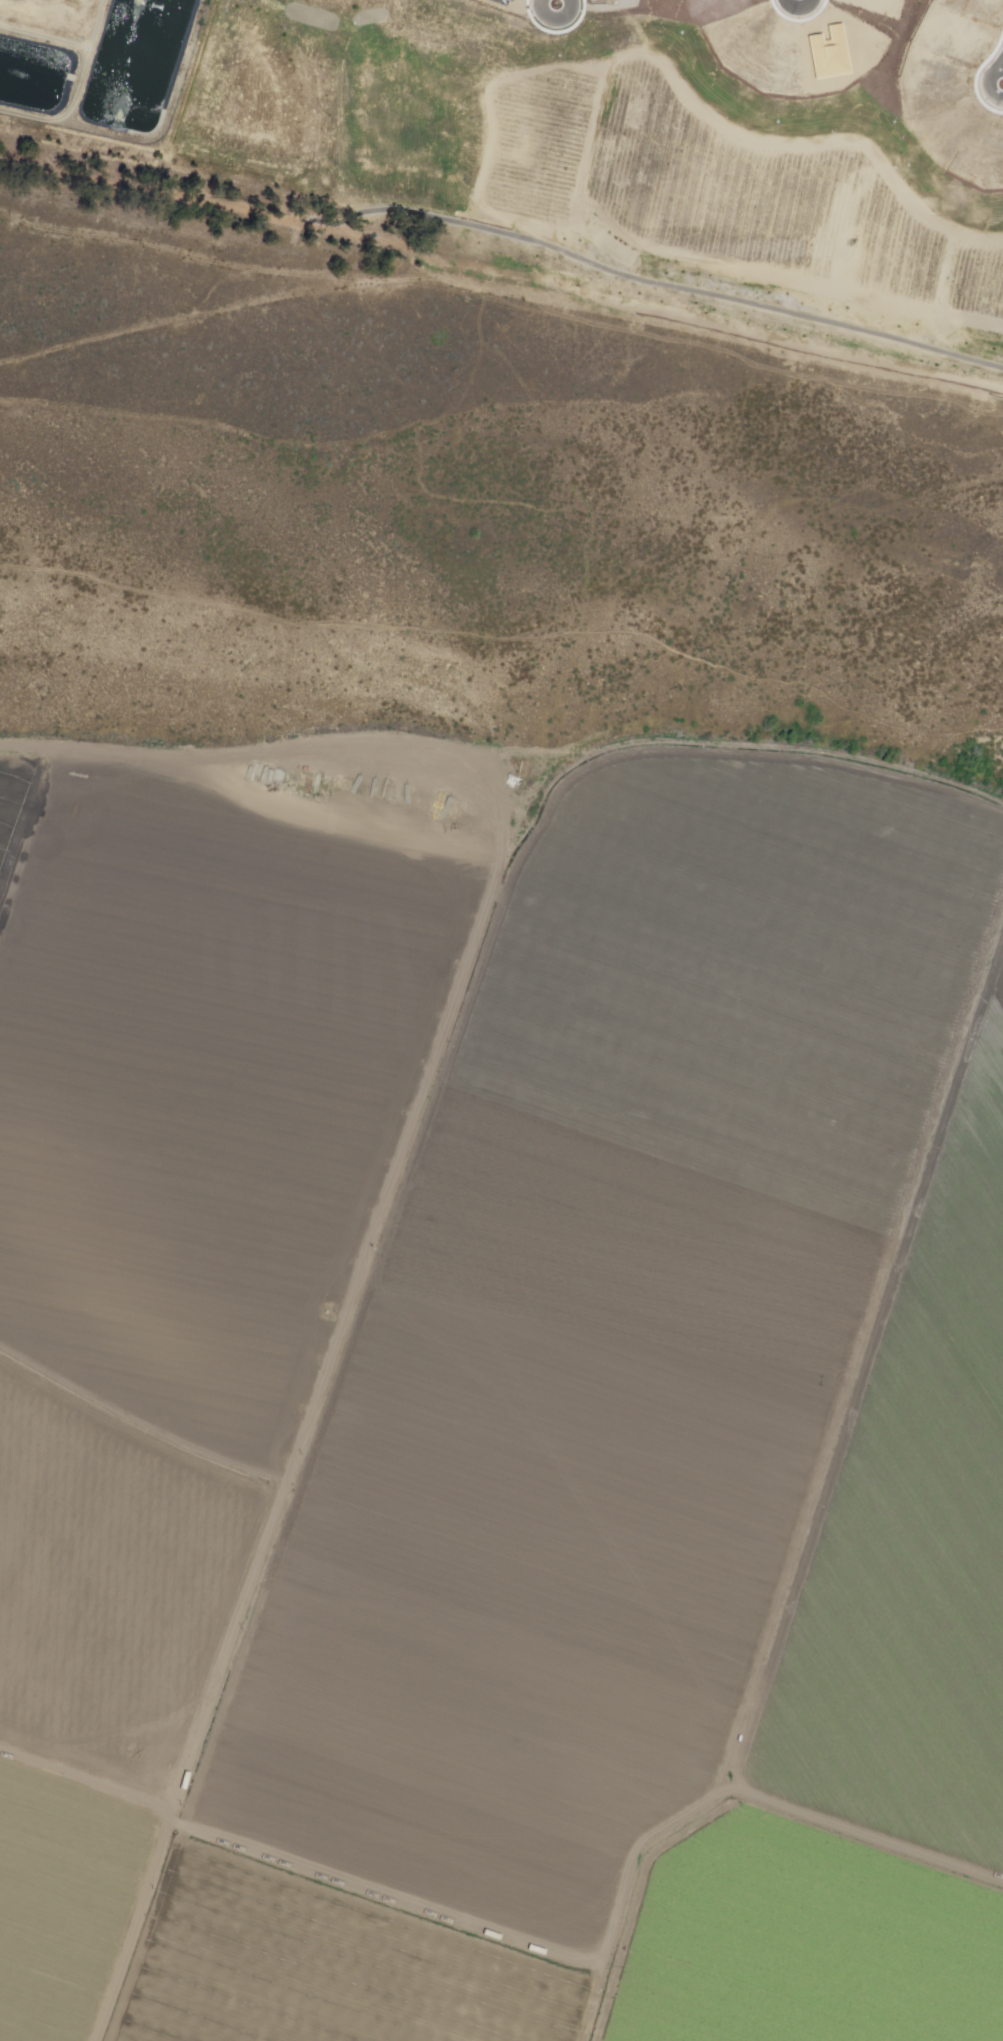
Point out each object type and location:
building: (675, 138)
building: (638, 165)
crop: (17, 807)
crop: (206, 1092)
crop: (607, 1338)
crop: (914, 1535)
crop: (108, 1586)
crop: (63, 1899)
crop: (800, 1940)
crop: (322, 1966)

